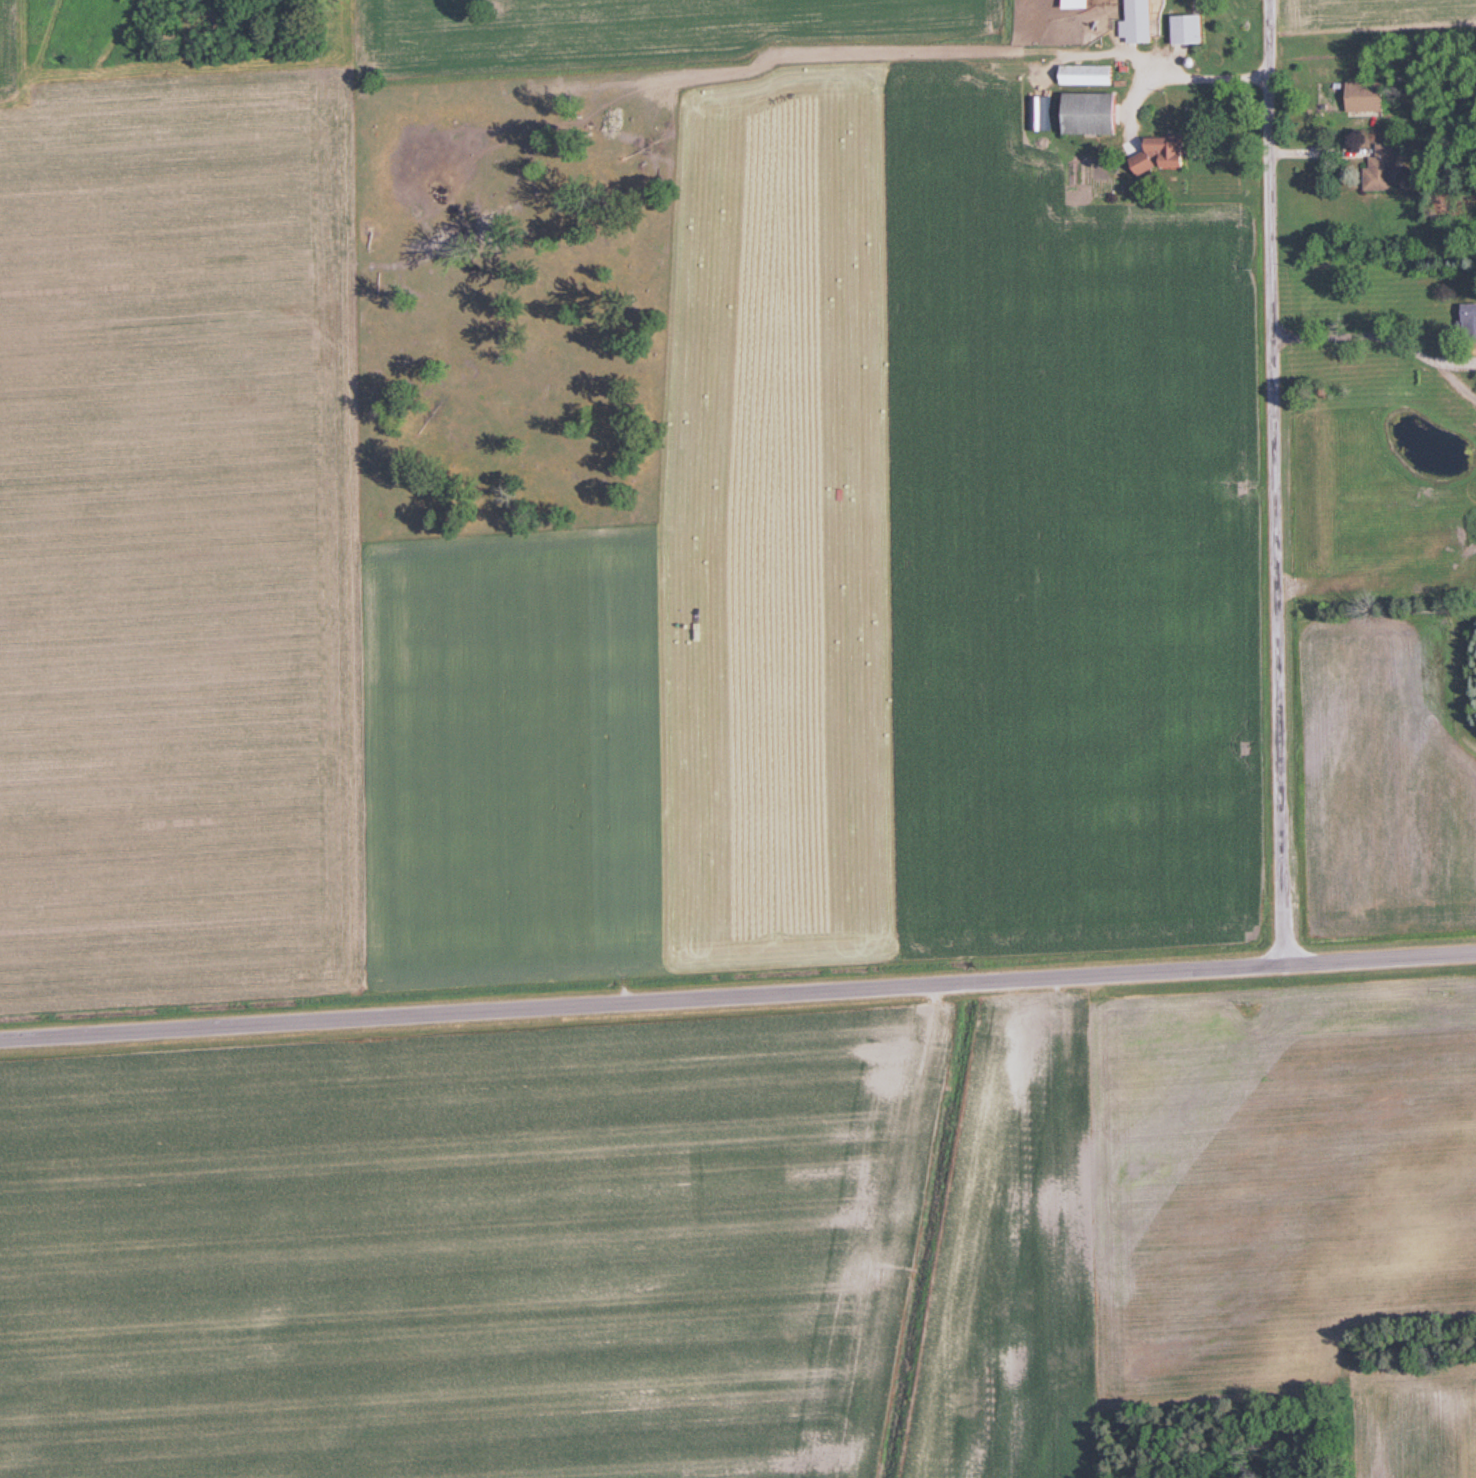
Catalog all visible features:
building: (1081, 4)
building: (1141, 22)
building: (1193, 28)
building: (1091, 74)
road: (1182, 75)
building: (1369, 96)
building: (1096, 113)
building: (1167, 153)
building: (1386, 168)
building: (1472, 320)
road: (1357, 333)
road: (1457, 359)
road: (1455, 381)
road: (1274, 483)
road: (738, 997)

